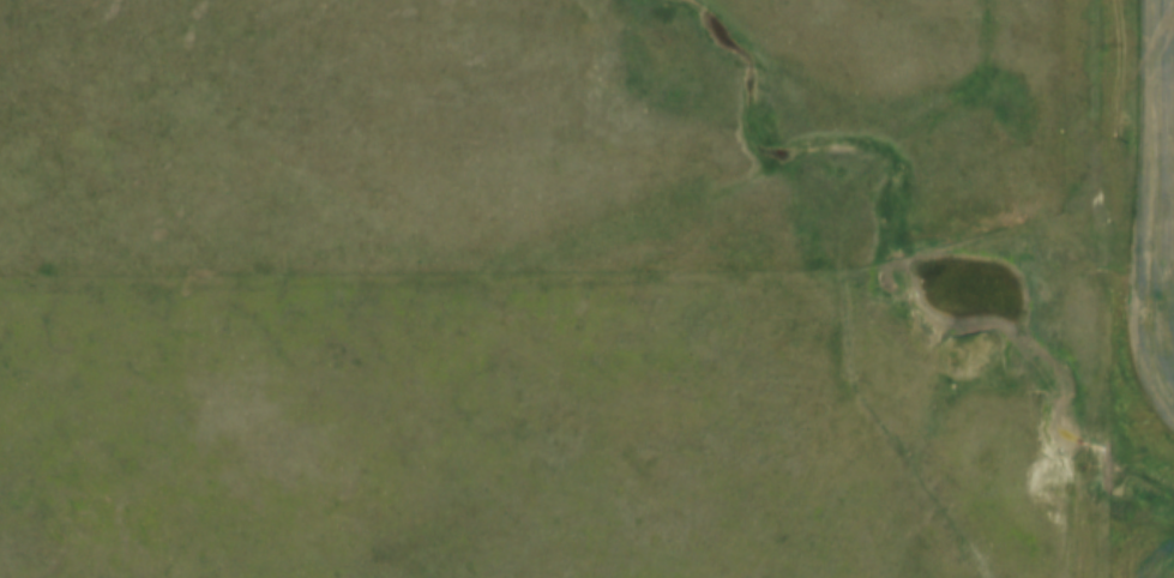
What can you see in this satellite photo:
road: (1094, 289)

